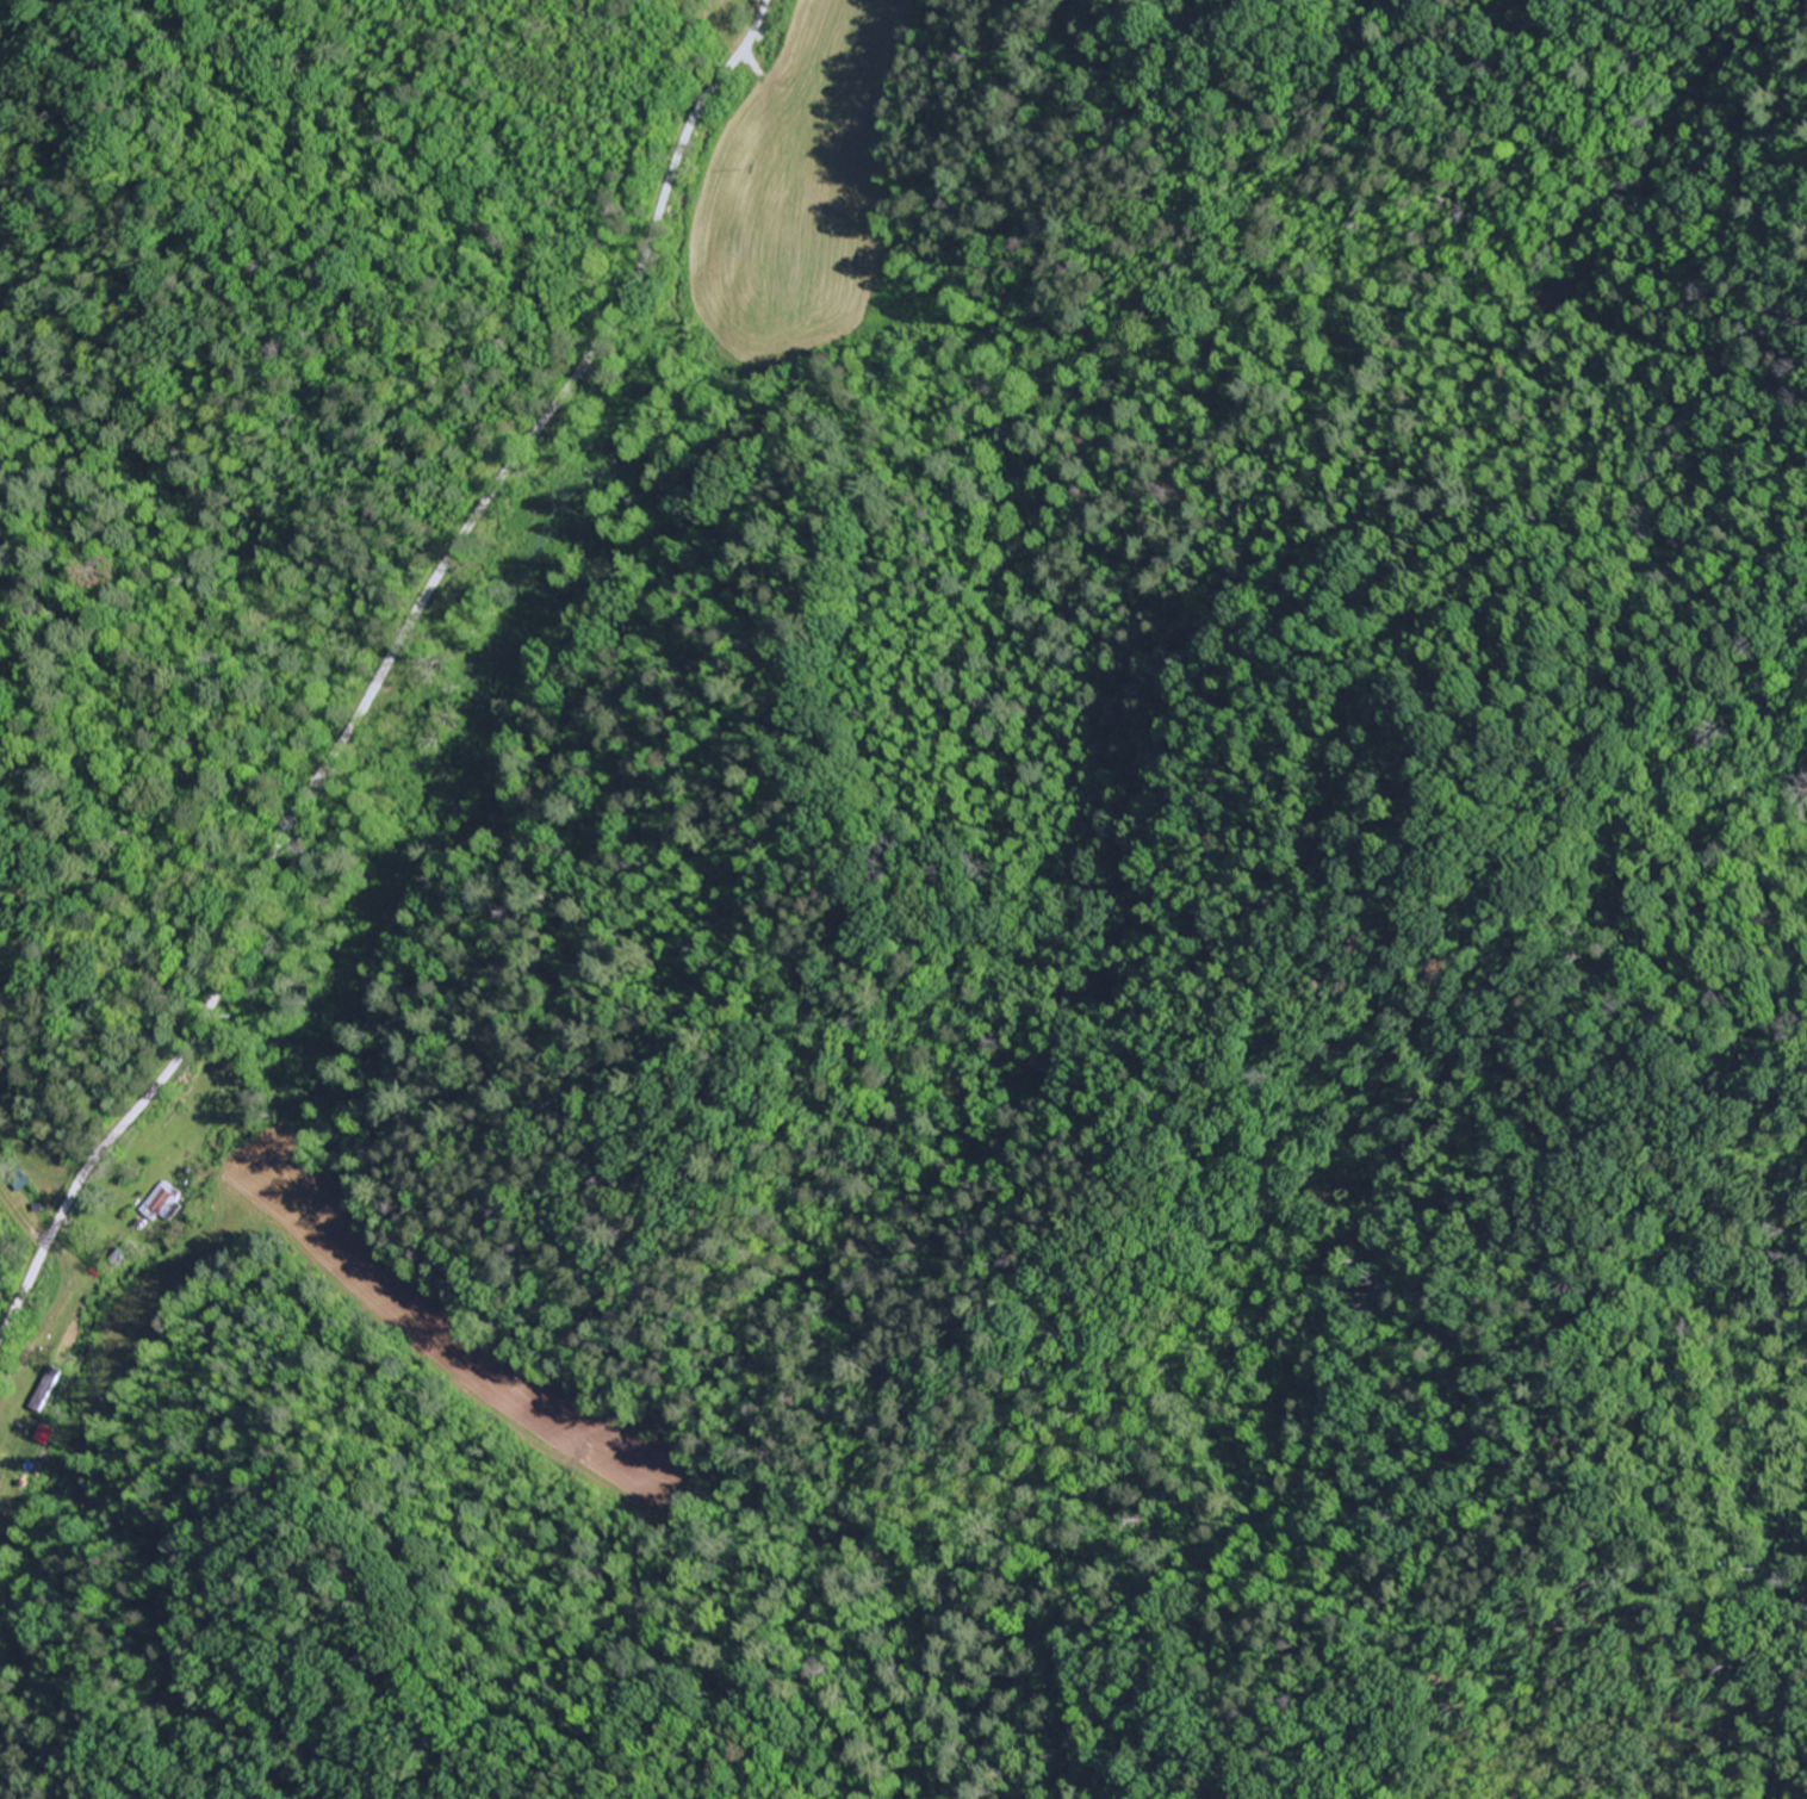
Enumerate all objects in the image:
road: (385, 671)
building: (164, 1204)
building: (48, 1390)

